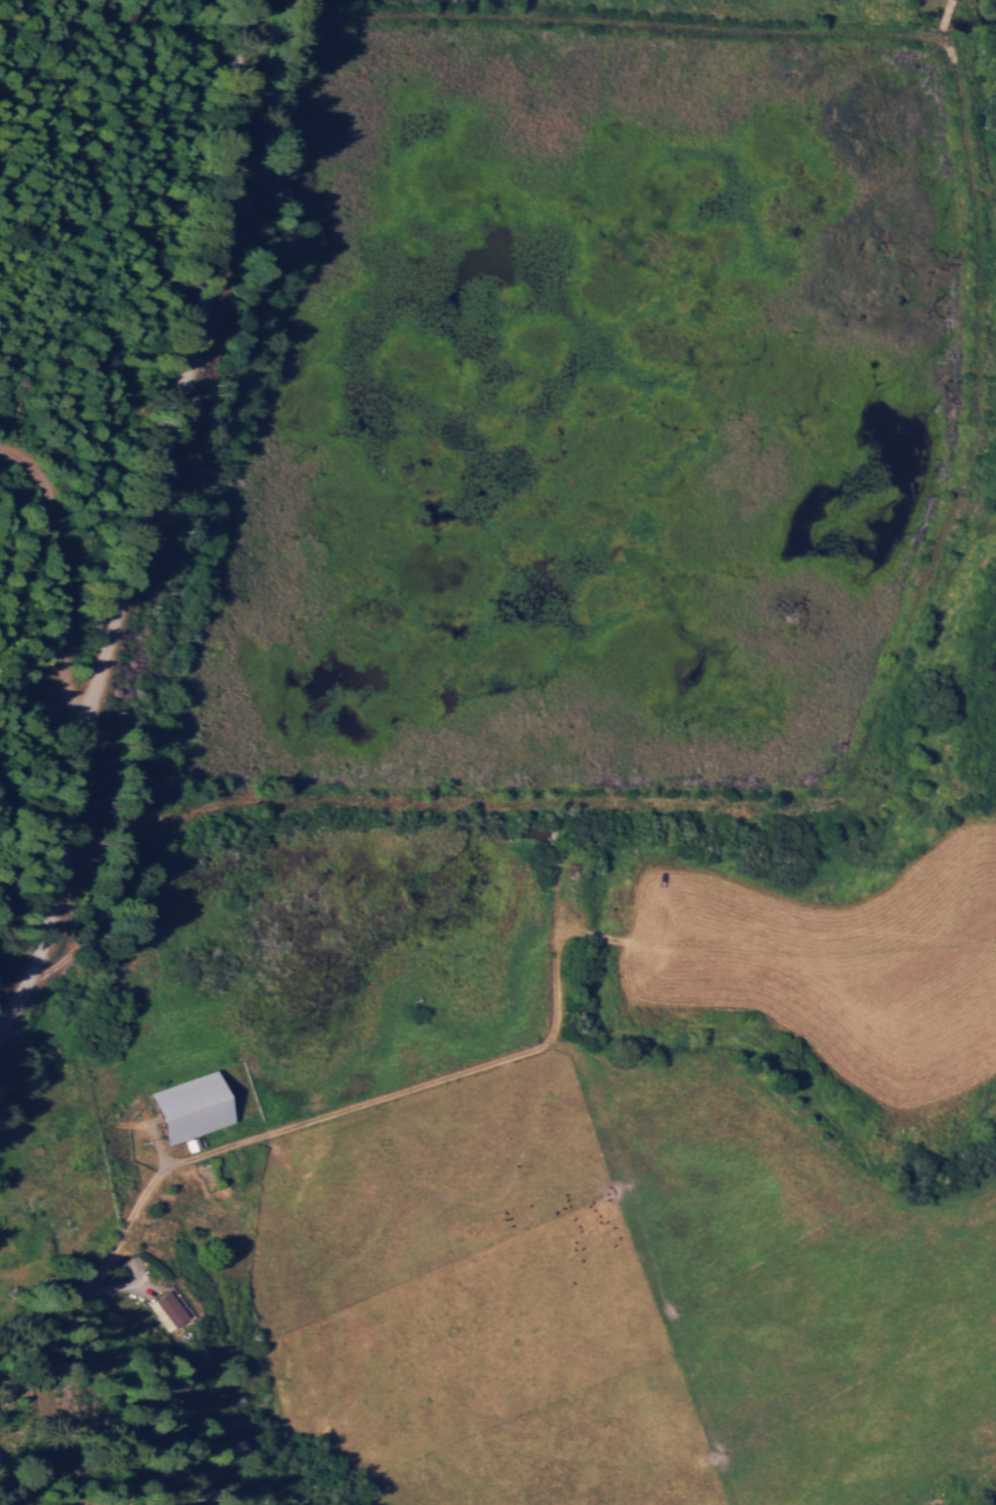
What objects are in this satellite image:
road: (140, 535)
building: (195, 1105)
building: (168, 1310)

